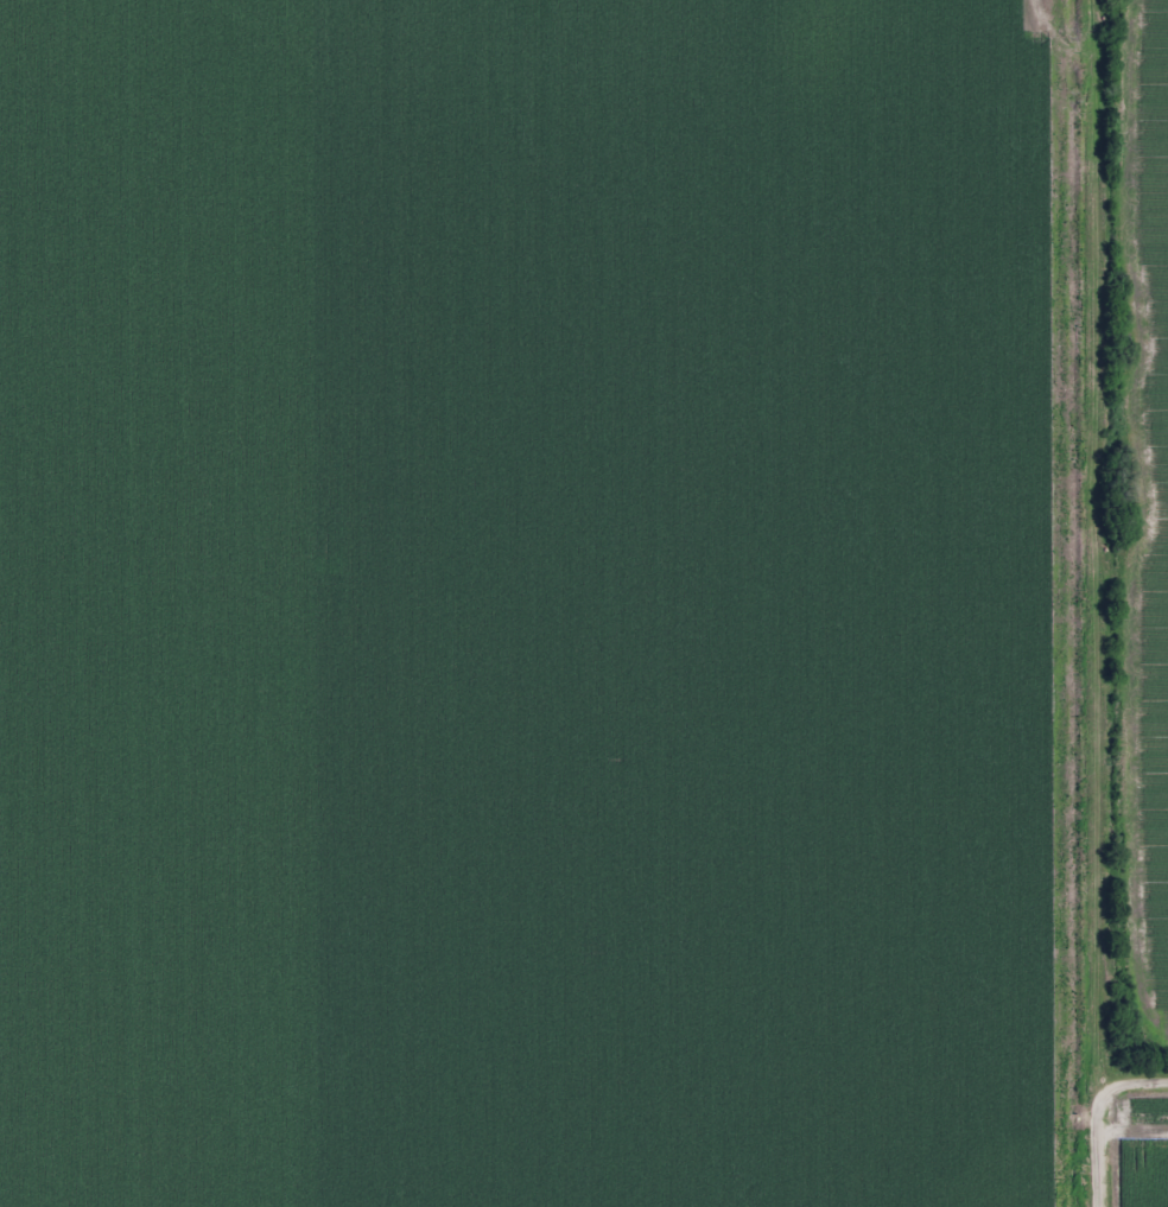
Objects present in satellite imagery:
road: (1135, 1080)

